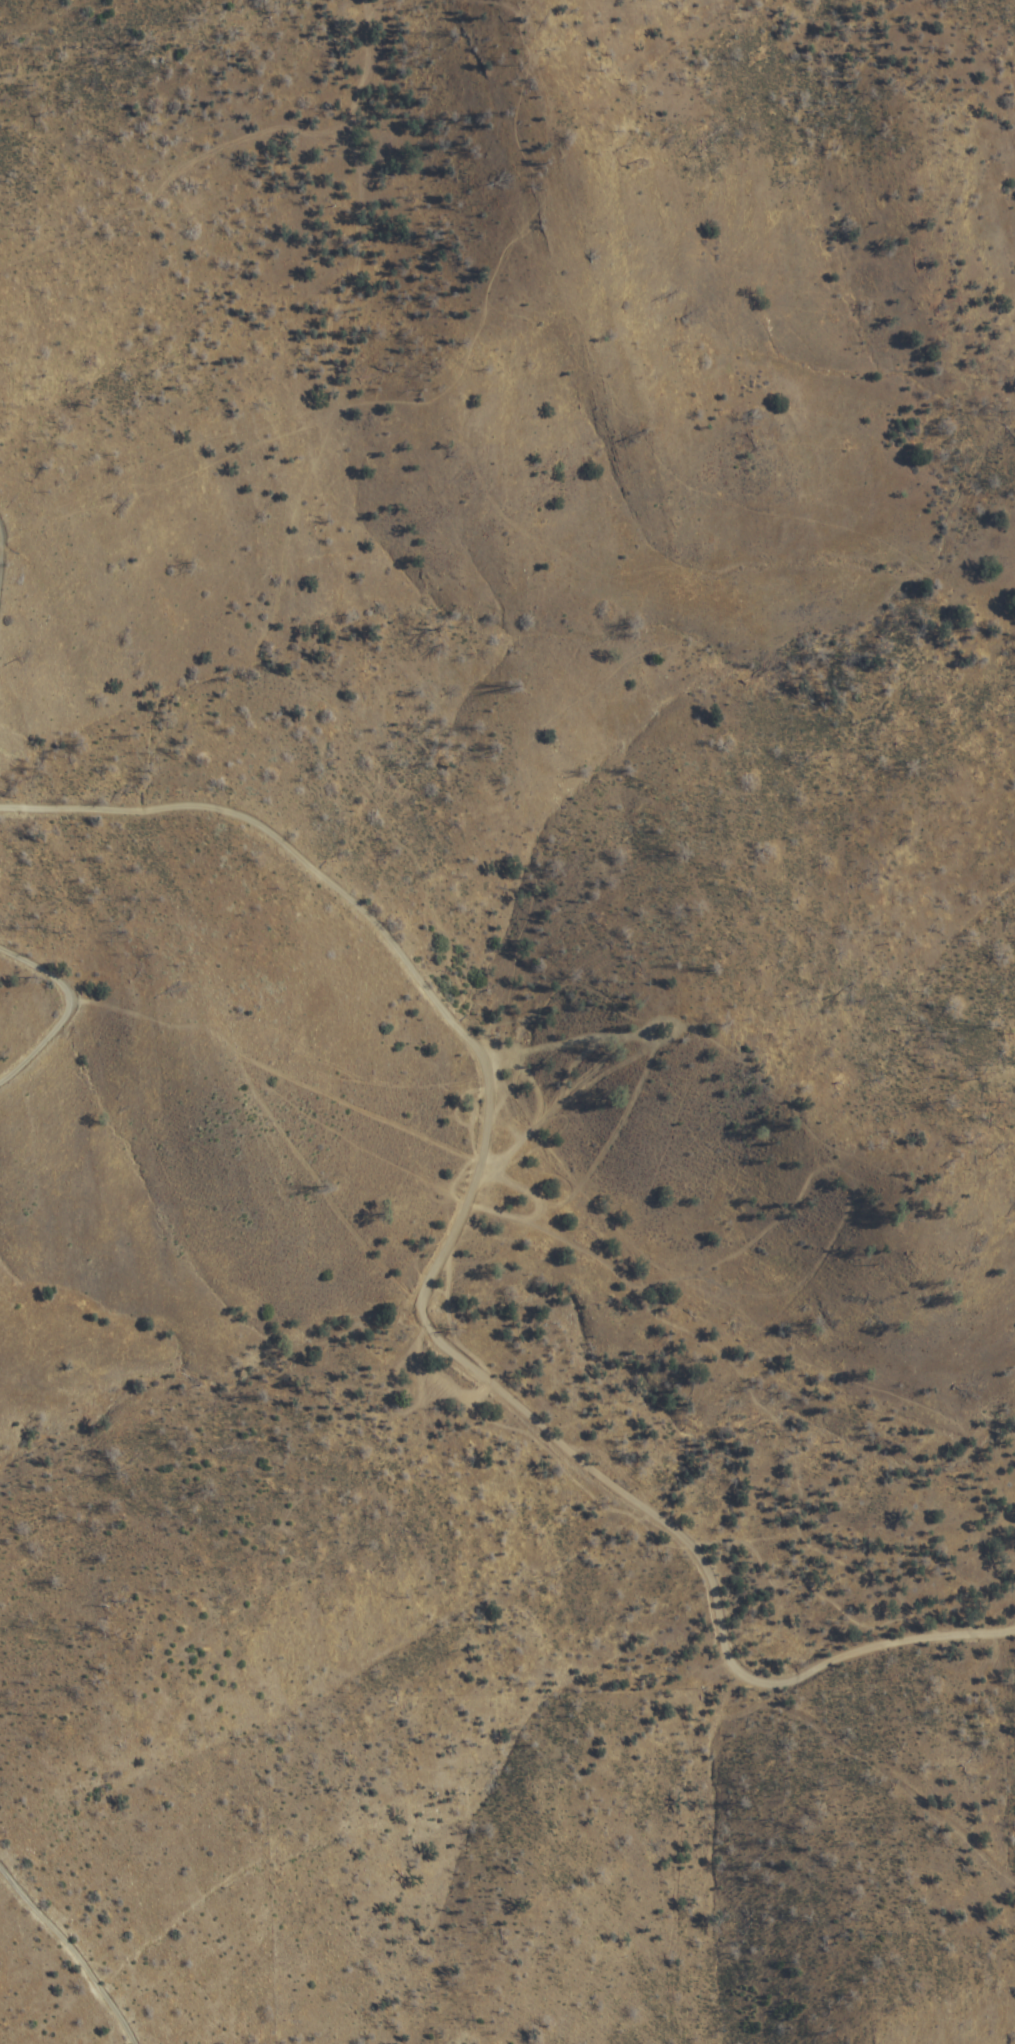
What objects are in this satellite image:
road: (1, 548)
road: (68, 1015)
road: (436, 1277)
road: (74, 1951)

